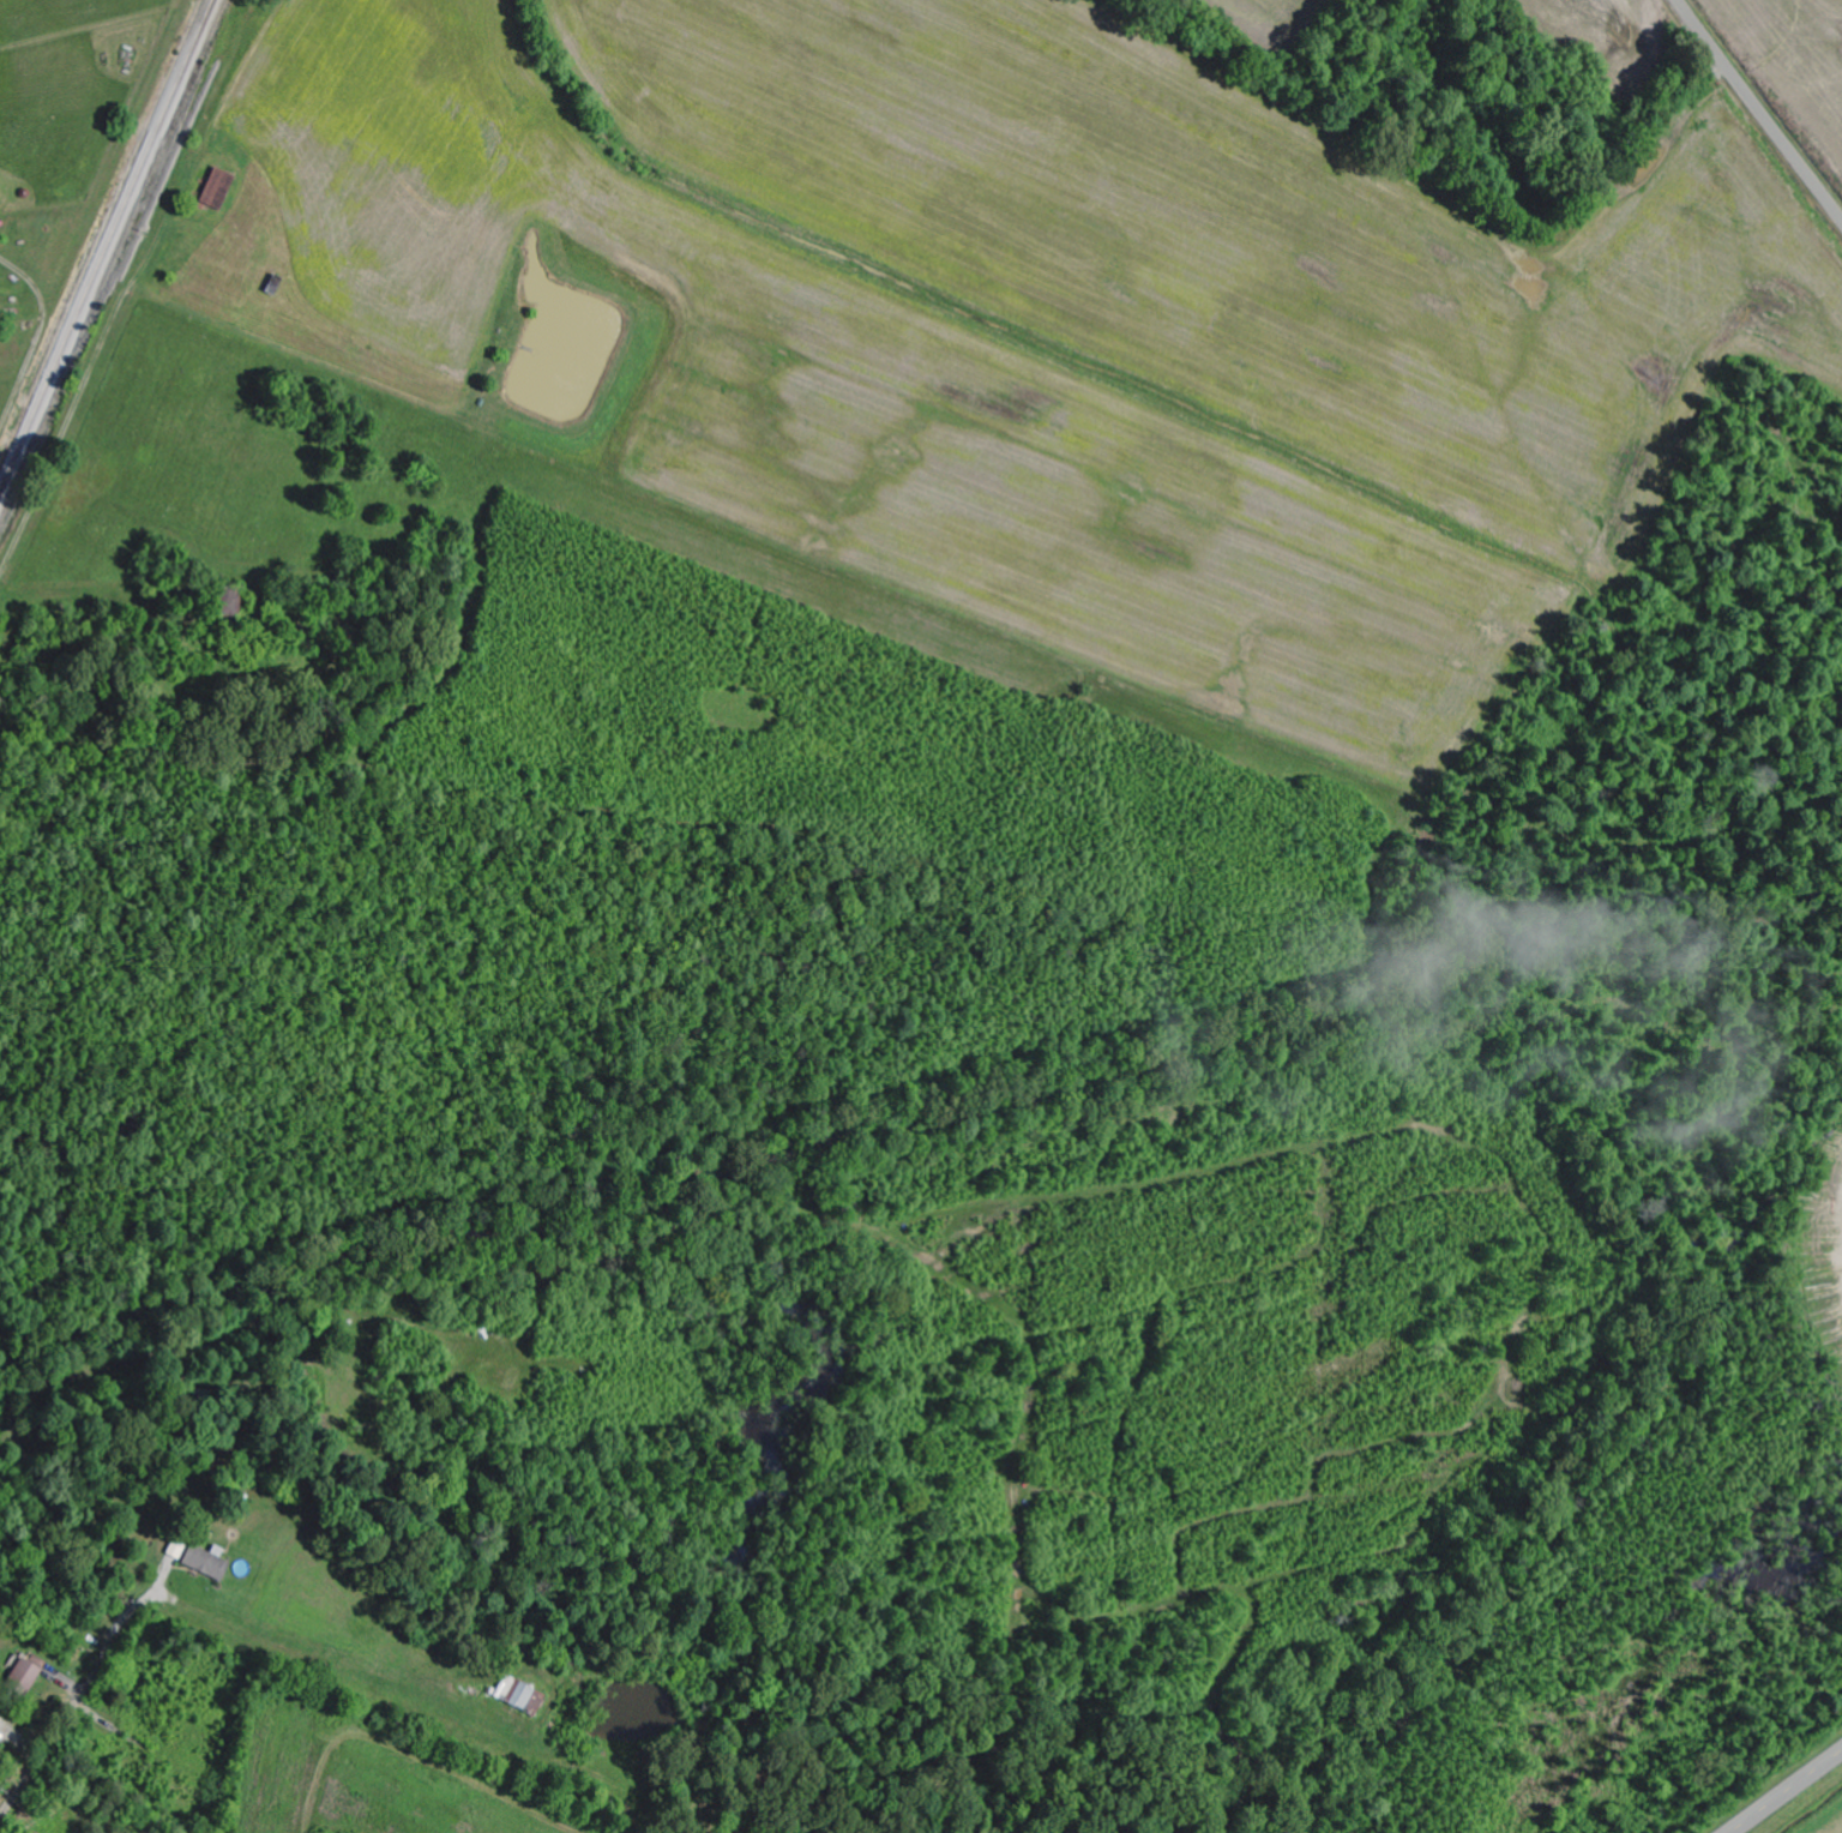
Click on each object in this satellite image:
road: (1757, 113)
railway: (107, 248)
building: (209, 1563)
building: (28, 1676)
building: (522, 1696)
road: (43, 1754)
road: (1789, 1795)

